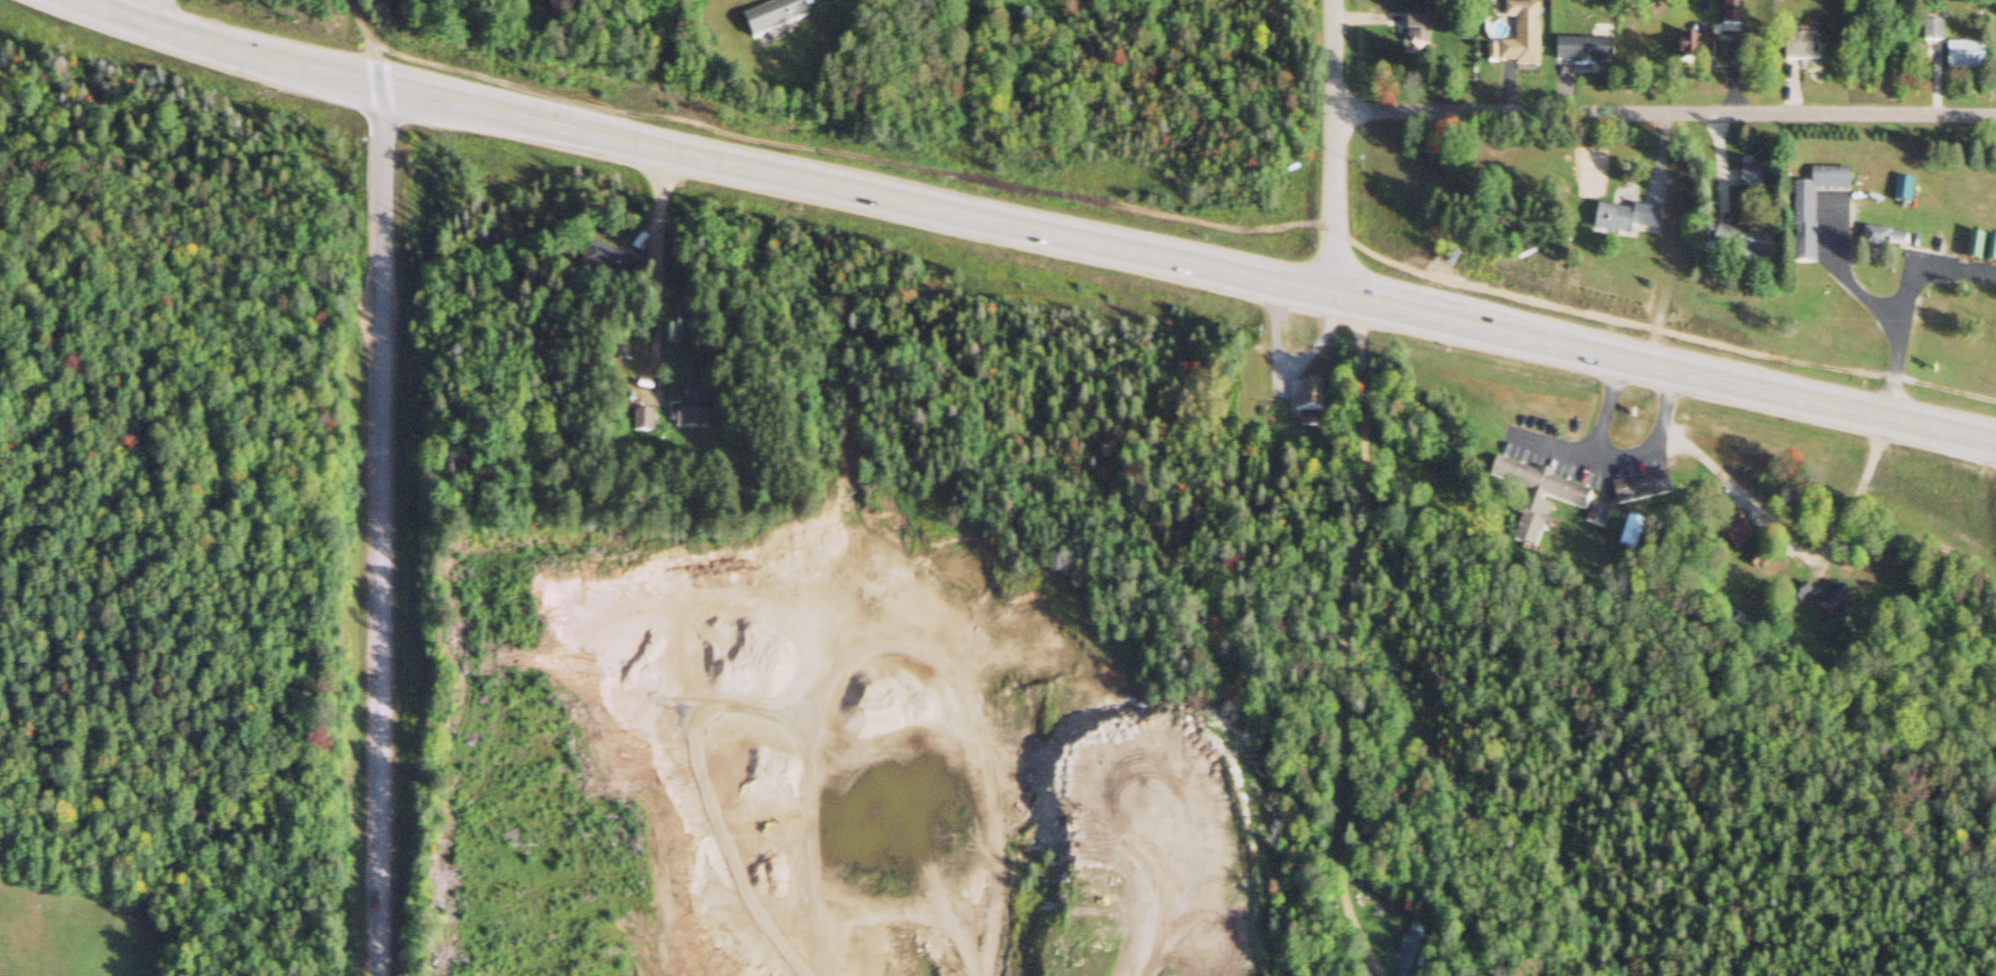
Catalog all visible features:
building: (570, 5)
building: (780, 18)
building: (1421, 29)
building: (1936, 30)
building: (1525, 38)
road: (368, 40)
building: (1809, 51)
building: (1587, 53)
building: (1699, 54)
building: (1970, 59)
road: (1664, 112)
road: (1333, 148)
building: (1752, 176)
building: (1805, 209)
building: (1629, 222)
road: (1192, 224)
road: (1033, 231)
building: (1883, 241)
building: (1746, 245)
building: (1979, 249)
building: (1993, 252)
building: (621, 267)
road: (654, 272)
road: (1905, 305)
road: (1360, 362)
building: (1308, 398)
building: (696, 414)
building: (646, 424)
road: (1618, 456)
building: (1646, 489)
building: (1557, 492)
road: (382, 531)
building: (1633, 534)
building: (1415, 935)

